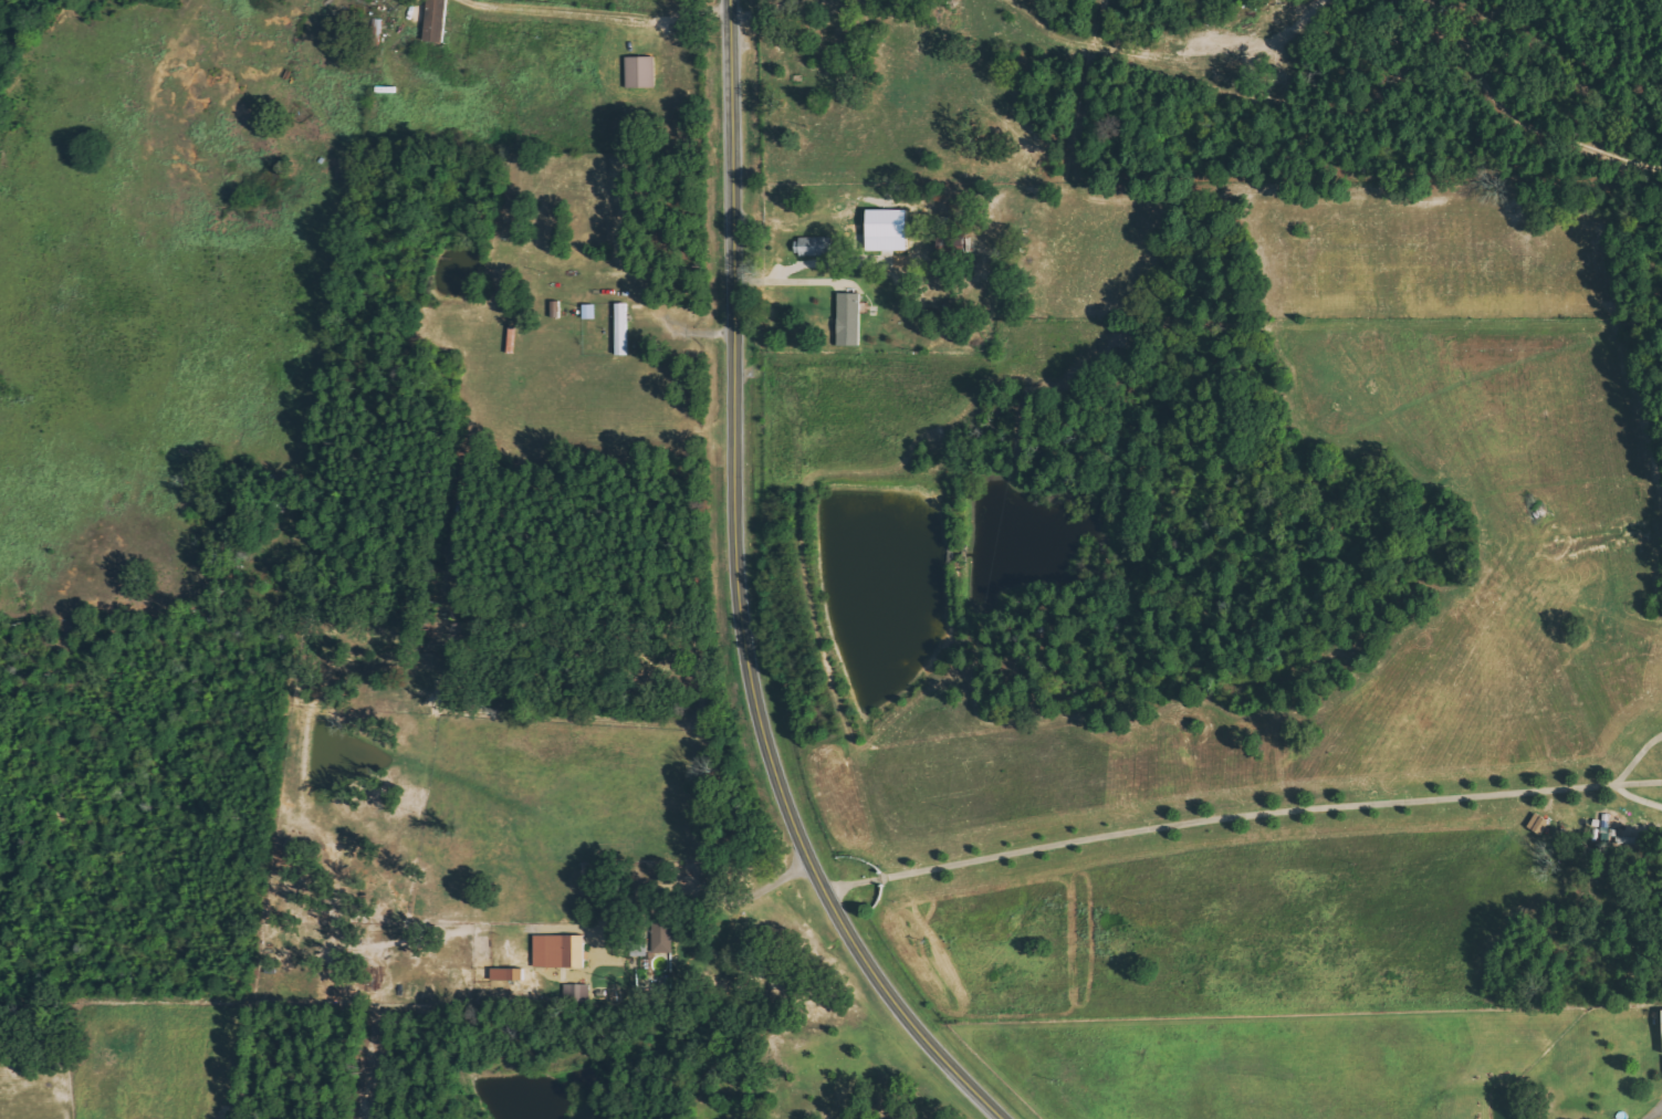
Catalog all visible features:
building: (436, 21)
building: (640, 72)
building: (887, 230)
building: (811, 247)
building: (848, 320)
building: (621, 328)
road: (738, 598)
building: (662, 935)
building: (506, 975)
building: (577, 994)

